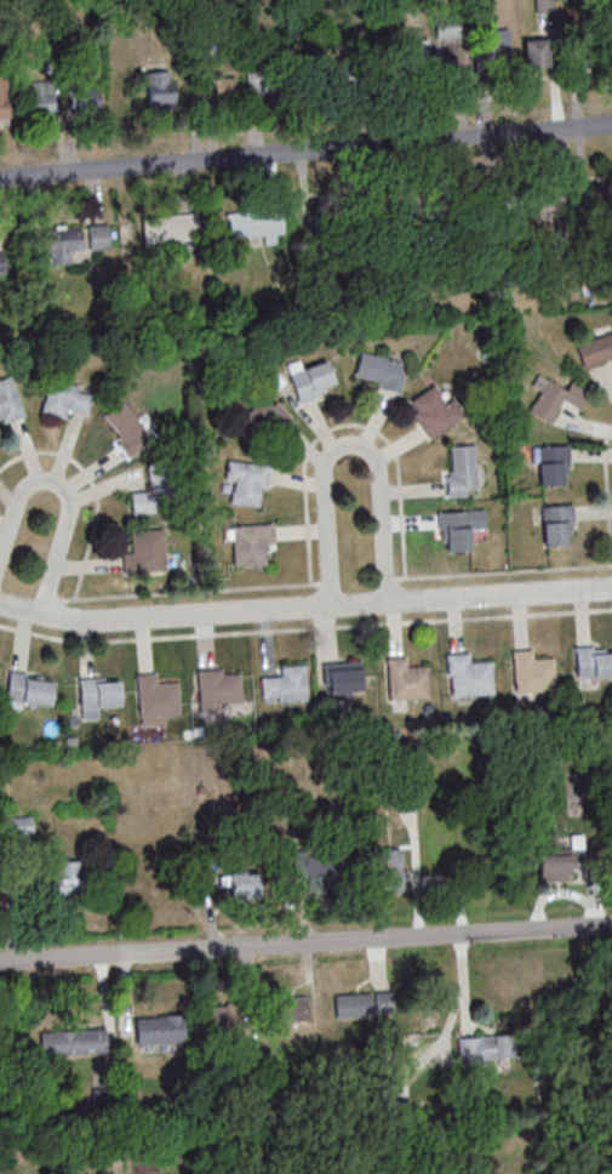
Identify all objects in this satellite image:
building: (291, 10)
building: (492, 46)
building: (536, 53)
building: (591, 53)
building: (425, 55)
building: (285, 76)
building: (161, 87)
building: (5, 96)
building: (90, 97)
building: (44, 98)
road: (305, 149)
building: (256, 224)
building: (538, 224)
building: (171, 228)
building: (395, 233)
building: (98, 235)
building: (61, 243)
building: (2, 263)
building: (595, 346)
building: (381, 371)
building: (313, 378)
building: (65, 399)
building: (555, 400)
building: (10, 401)
building: (431, 411)
building: (264, 416)
building: (127, 426)
road: (348, 444)
building: (554, 465)
building: (458, 471)
building: (242, 480)
building: (154, 492)
road: (605, 492)
road: (67, 497)
building: (555, 524)
road: (305, 529)
building: (461, 529)
building: (248, 542)
building: (147, 553)
road: (304, 606)
road: (304, 627)
building: (590, 661)
building: (528, 671)
building: (464, 674)
building: (402, 678)
building: (343, 679)
building: (286, 685)
building: (30, 688)
building: (215, 691)
building: (98, 695)
building: (153, 696)
building: (24, 827)
building: (469, 849)
building: (561, 859)
building: (393, 868)
building: (69, 877)
building: (325, 879)
building: (245, 883)
road: (305, 944)
building: (360, 1003)
building: (292, 1008)
building: (224, 1015)
building: (160, 1030)
building: (73, 1042)
building: (490, 1047)

